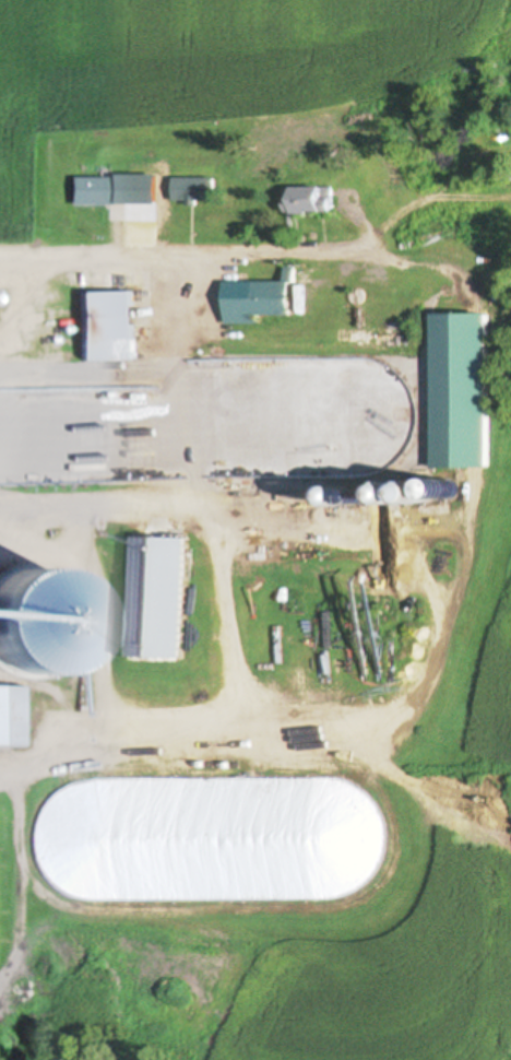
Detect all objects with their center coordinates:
crop: (204, 59)
building: (112, 189)
building: (198, 189)
building: (309, 199)
road: (174, 252)
building: (260, 299)
building: (109, 326)
building: (296, 447)
building: (453, 488)
building: (159, 597)
building: (11, 669)

